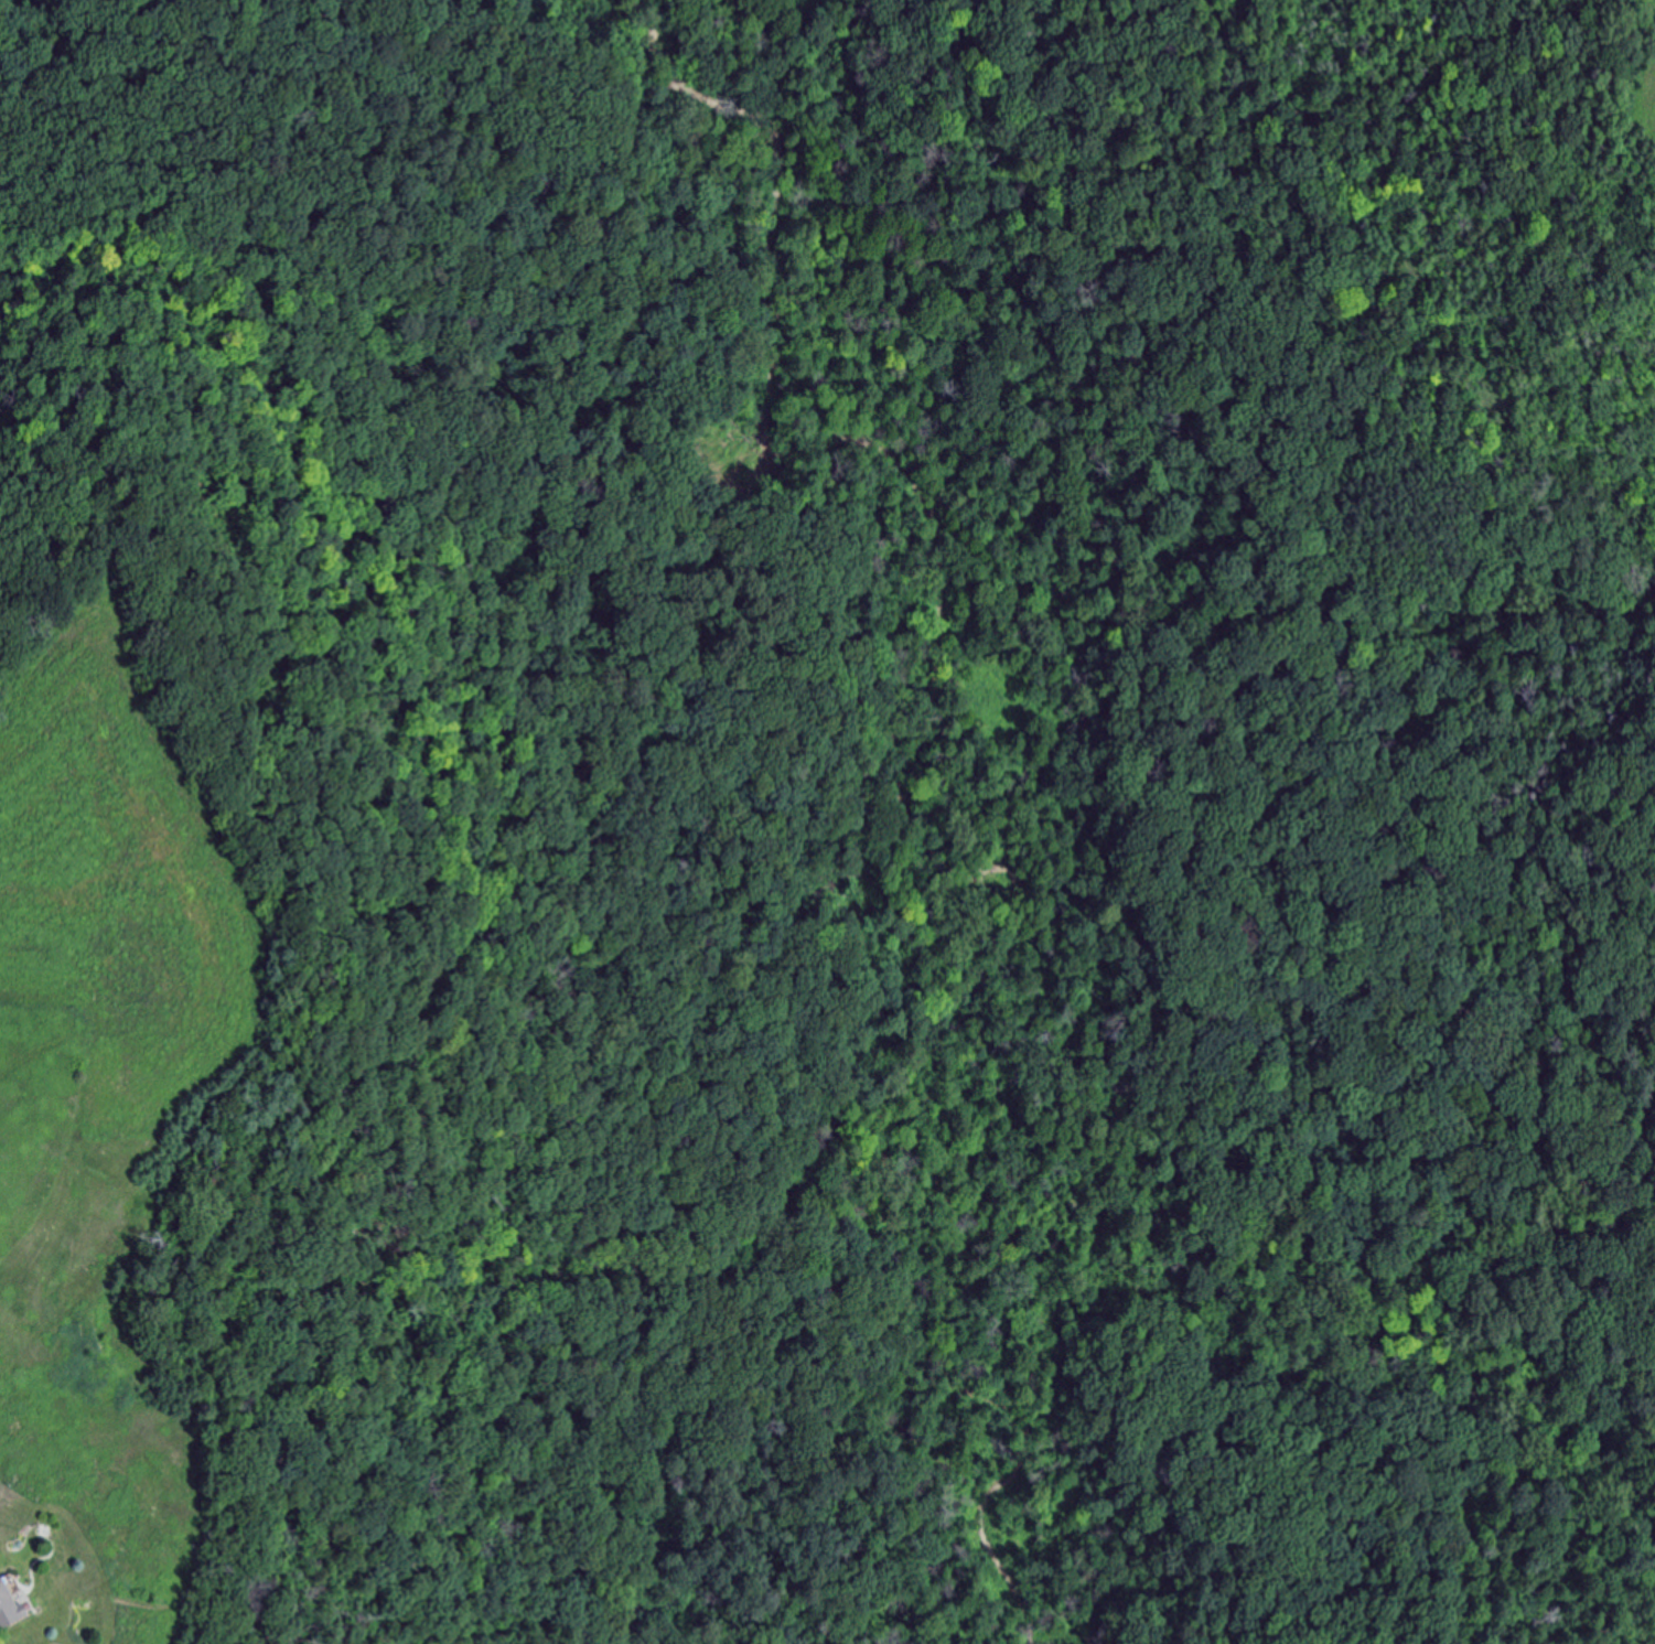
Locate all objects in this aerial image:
building: (12, 1607)

